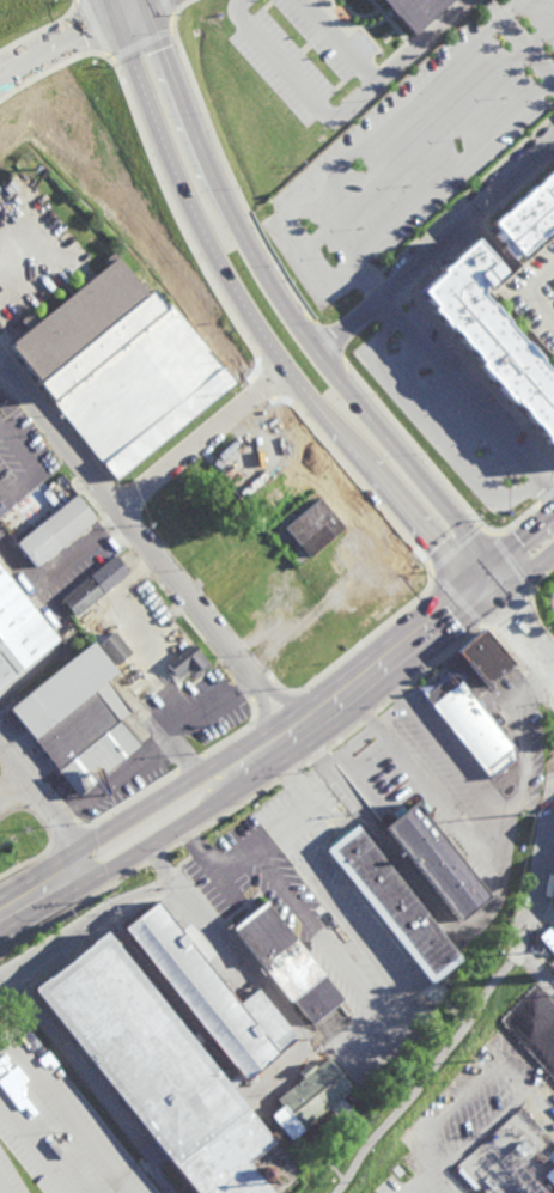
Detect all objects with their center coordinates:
traffic signals: (146, 1)
road: (233, 5)
road: (500, 5)
building: (415, 11)
road: (509, 14)
traffic signals: (110, 17)
road: (41, 29)
road: (522, 30)
road: (72, 32)
road: (173, 32)
road: (517, 41)
road: (339, 43)
road: (425, 43)
road: (536, 45)
parking lot: (304, 50)
road: (547, 56)
road: (305, 86)
parking lot: (420, 151)
road: (519, 196)
road: (424, 197)
building: (530, 223)
road: (297, 232)
road: (479, 236)
road: (438, 248)
road: (437, 273)
road: (535, 288)
parking lot: (532, 297)
road: (292, 312)
road: (254, 325)
building: (495, 331)
building: (121, 366)
road: (444, 371)
road: (485, 372)
road: (57, 412)
road: (443, 422)
road: (201, 437)
parking lot: (23, 457)
road: (26, 473)
road: (546, 483)
road: (123, 495)
road: (546, 500)
road: (547, 516)
road: (518, 525)
building: (313, 526)
building: (57, 532)
road: (151, 544)
road: (134, 552)
parking lot: (79, 564)
road: (523, 566)
road: (65, 567)
road: (474, 567)
road: (513, 568)
road: (184, 572)
road: (542, 578)
building: (96, 585)
traffic signals: (492, 591)
road: (464, 608)
road: (505, 608)
road: (537, 617)
road: (523, 627)
building: (19, 631)
road: (371, 647)
building: (115, 649)
road: (505, 650)
road: (249, 652)
road: (442, 658)
building: (489, 661)
building: (189, 662)
road: (439, 676)
road: (278, 687)
road: (416, 687)
road: (536, 687)
road: (396, 694)
road: (488, 698)
road: (549, 704)
road: (382, 706)
road: (279, 717)
road: (366, 717)
building: (78, 719)
building: (476, 730)
road: (345, 735)
road: (526, 745)
road: (354, 750)
road: (318, 755)
road: (305, 763)
road: (254, 765)
road: (288, 774)
road: (179, 779)
road: (13, 789)
road: (427, 790)
road: (45, 802)
road: (238, 808)
road: (65, 809)
road: (36, 816)
power tower: (523, 816)
road: (291, 821)
road: (188, 838)
road: (68, 839)
road: (170, 847)
road: (183, 851)
road: (154, 856)
road: (152, 858)
road: (207, 860)
road: (184, 862)
building: (439, 862)
road: (24, 864)
building: (553, 882)
road: (160, 888)
road: (139, 896)
road: (541, 902)
building: (395, 905)
road: (71, 908)
road: (488, 918)
road: (360, 930)
road: (322, 938)
building: (548, 938)
road: (51, 950)
road: (67, 952)
road: (524, 954)
building: (290, 962)
road: (541, 969)
building: (211, 996)
power tower: (475, 1061)
road: (505, 1065)
building: (156, 1069)
road: (272, 1071)
road: (426, 1075)
building: (310, 1097)
road: (68, 1112)
parking lot: (55, 1126)
road: (35, 1148)
power substation: (516, 1158)
road: (440, 1174)
parking lot: (412, 1176)
road: (428, 1182)
road: (1, 1189)

